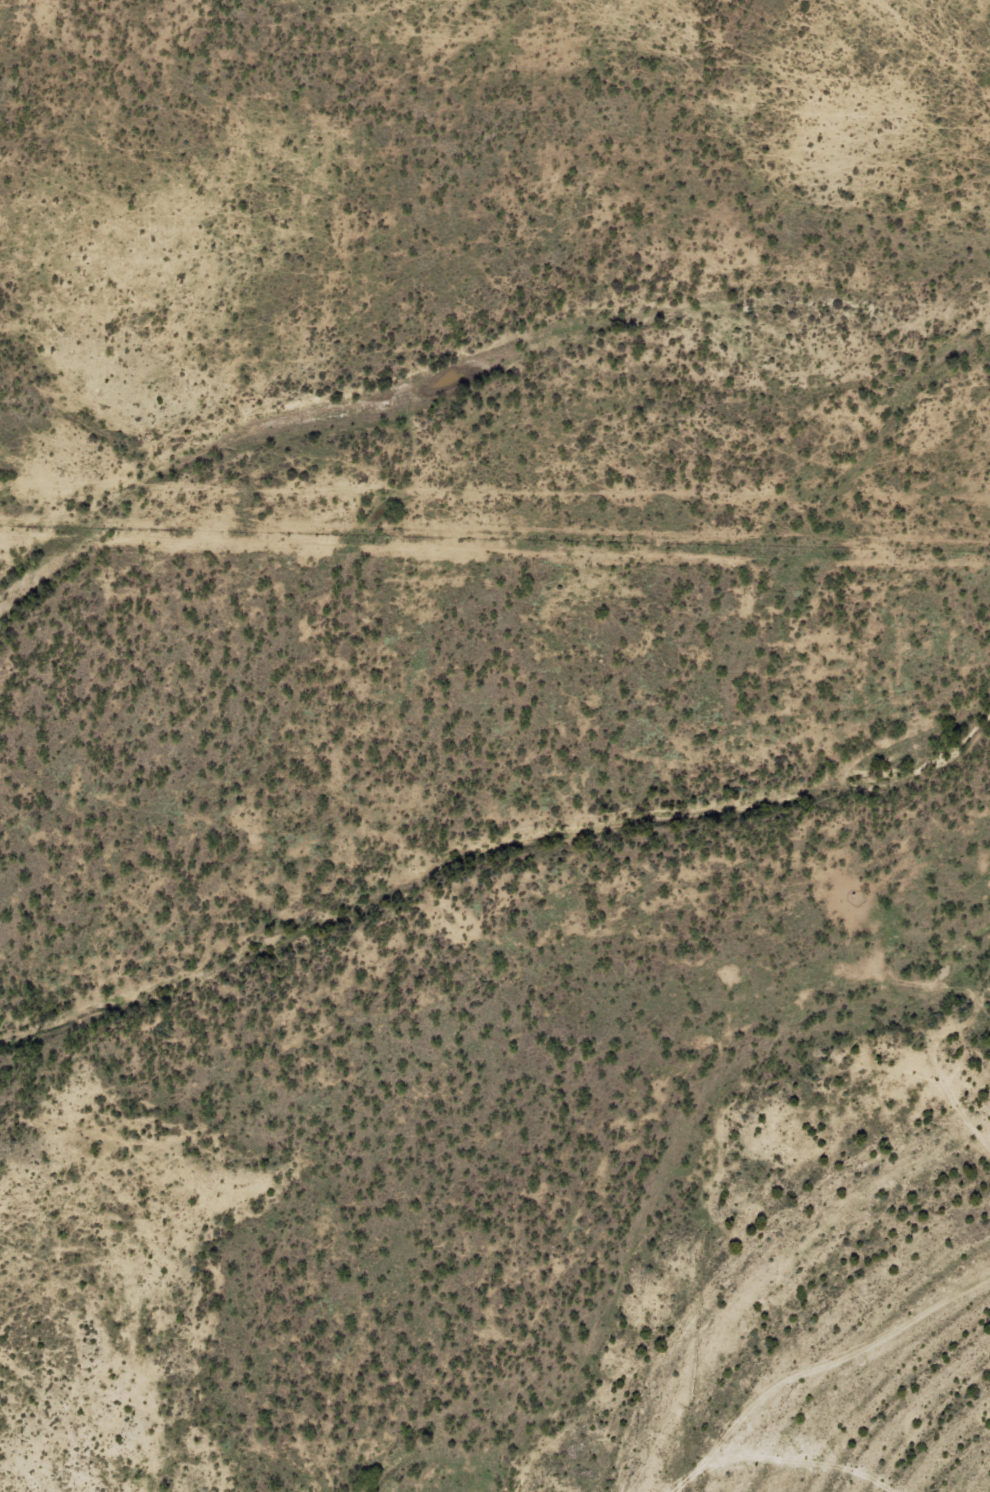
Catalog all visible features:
road: (832, 1382)
road: (822, 1449)

